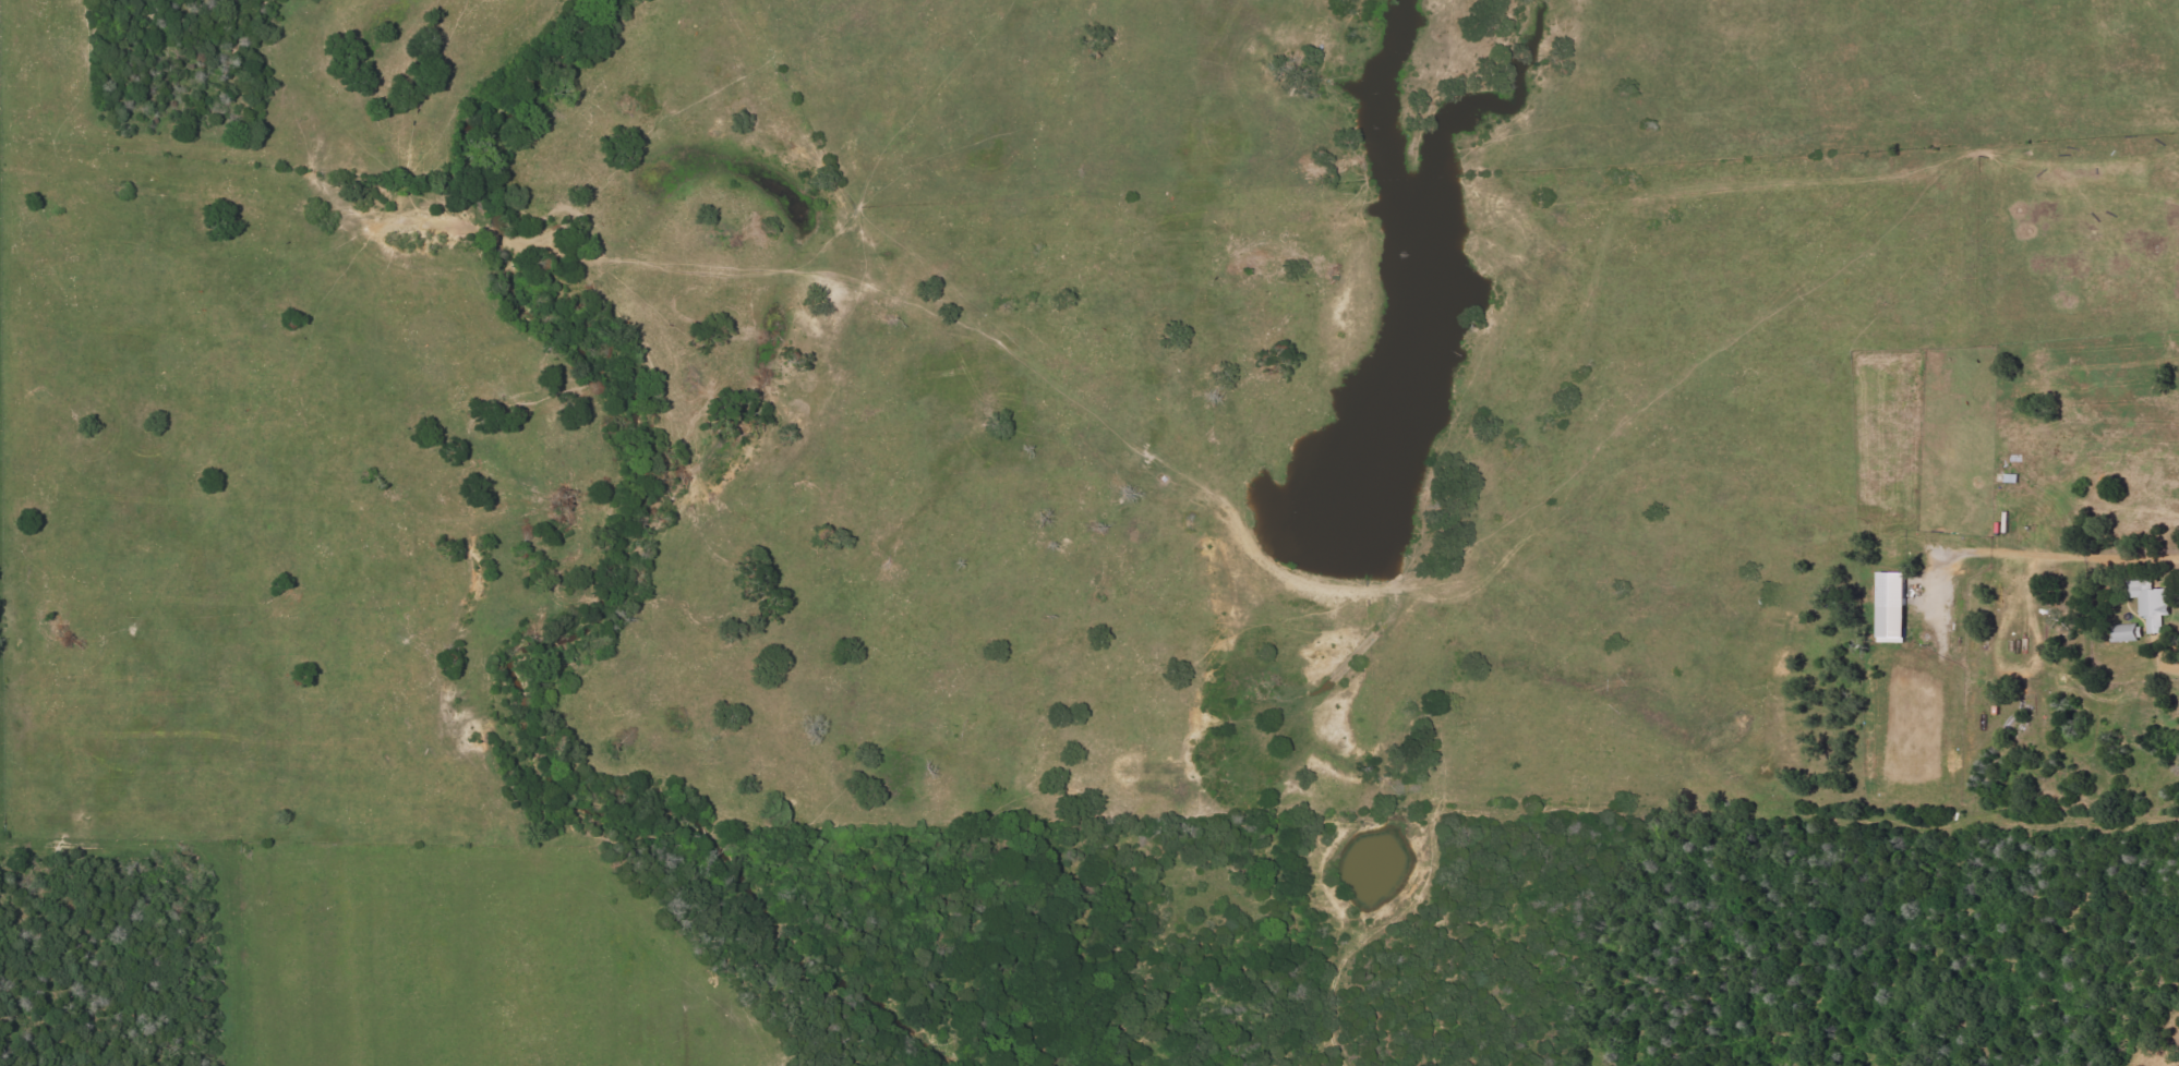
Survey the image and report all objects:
building: (2152, 603)
building: (1894, 604)
building: (2129, 635)

